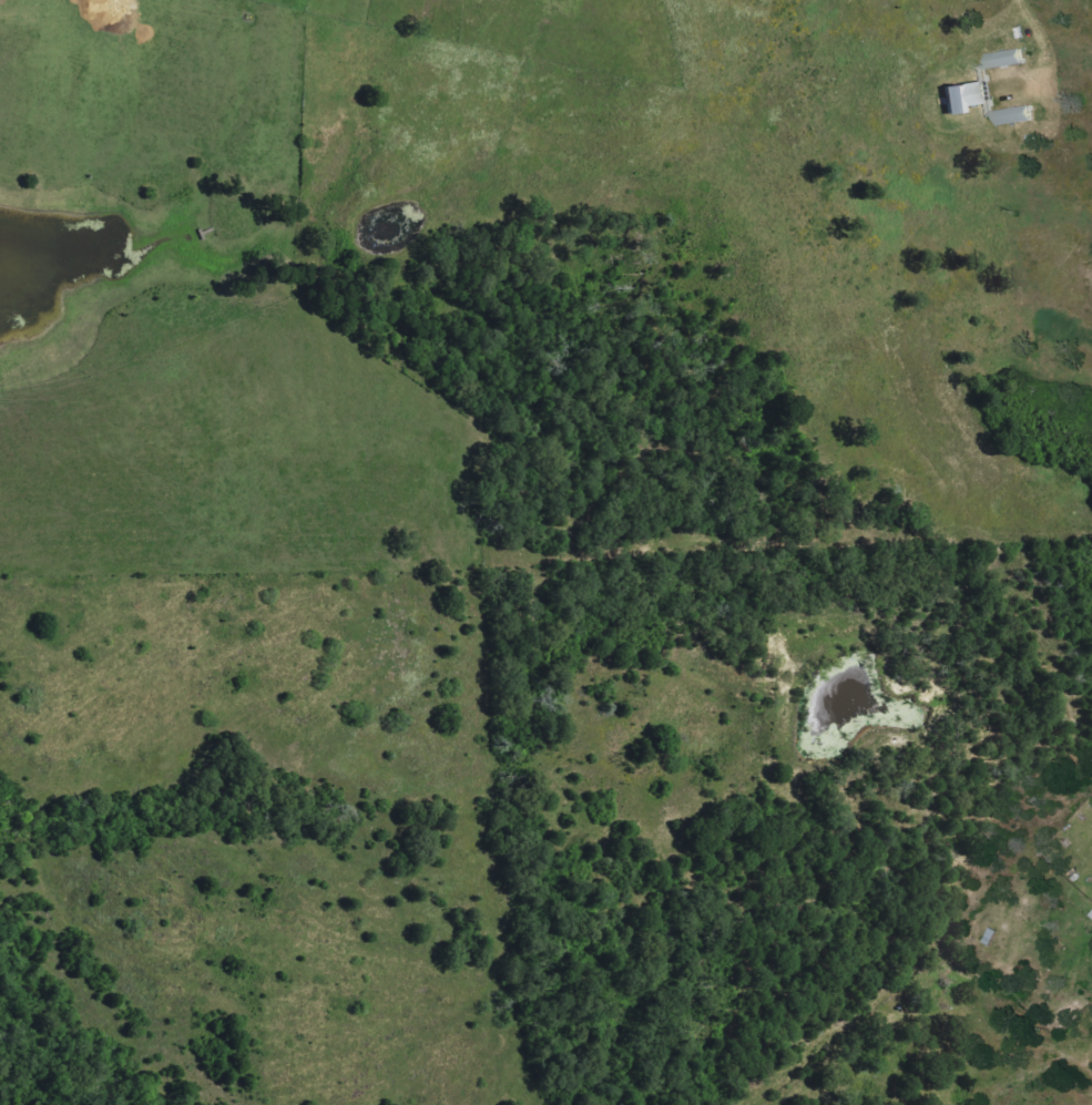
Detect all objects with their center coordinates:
road: (1041, 24)
building: (993, 93)
building: (993, 938)

